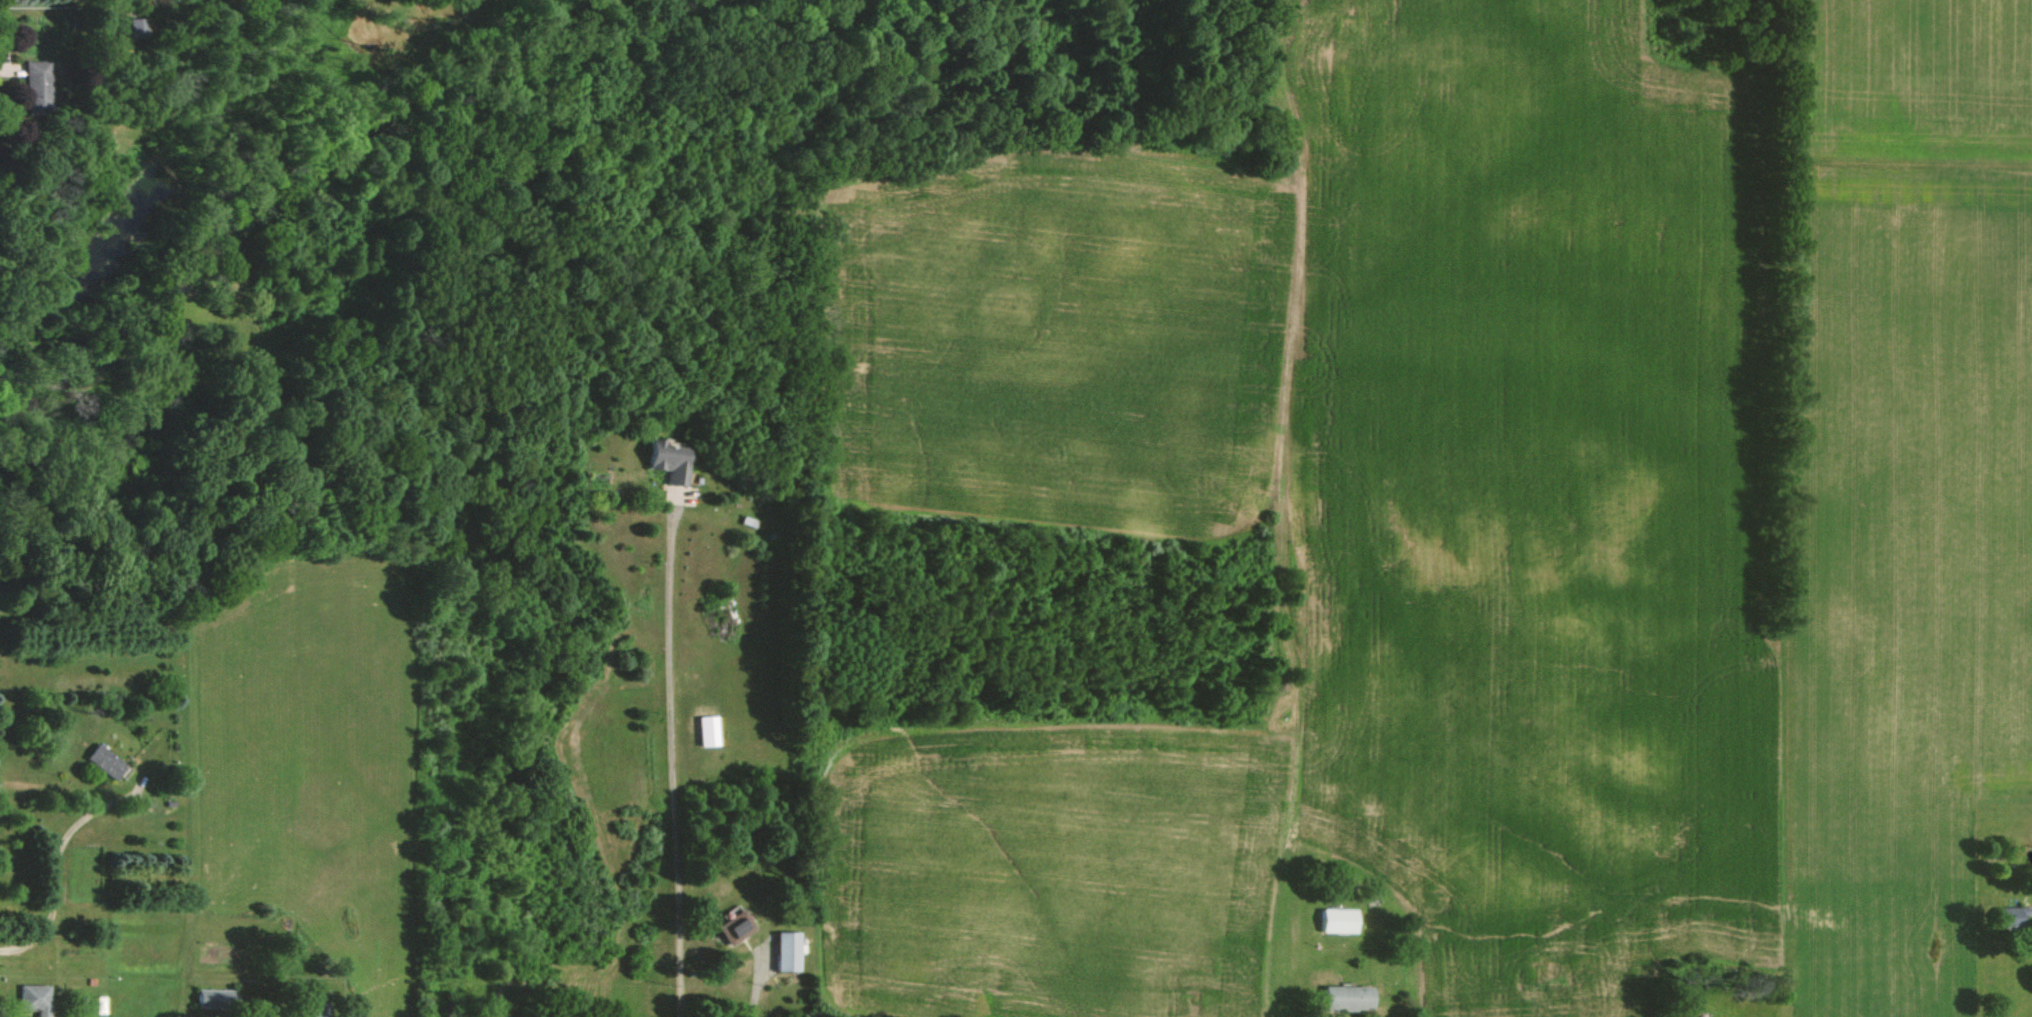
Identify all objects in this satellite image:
building: (137, 25)
building: (34, 84)
building: (663, 460)
building: (708, 729)
building: (100, 760)
road: (672, 760)
road: (55, 861)
building: (2007, 915)
building: (1340, 920)
building: (731, 926)
building: (783, 950)
road: (753, 984)
building: (1344, 996)
building: (215, 997)
building: (32, 998)
building: (308, 1012)

